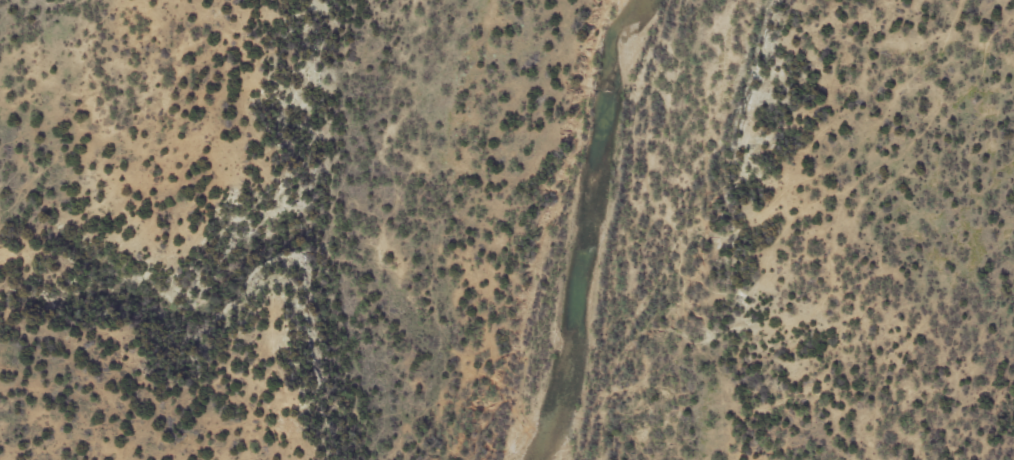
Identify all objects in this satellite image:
river: (575, 230)

